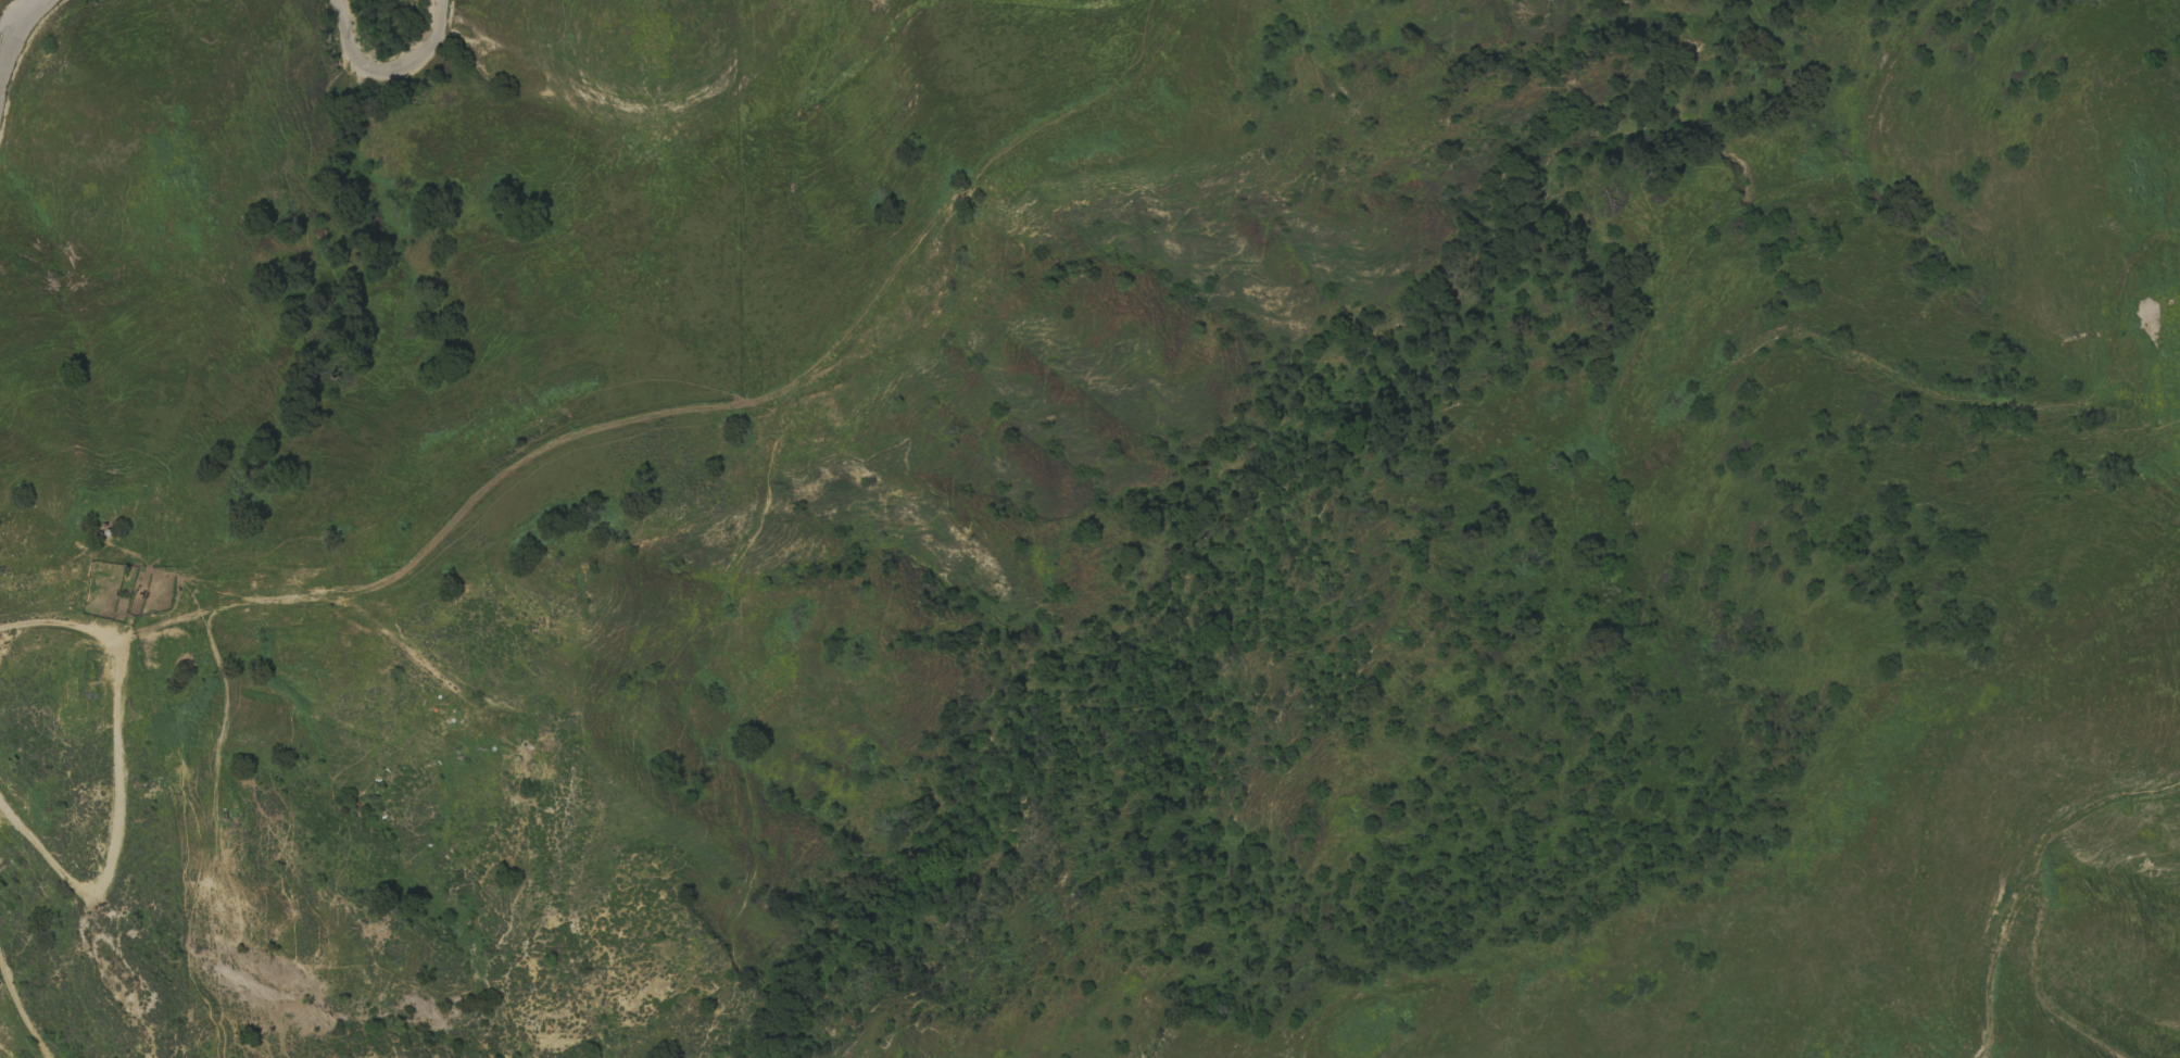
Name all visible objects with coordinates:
road: (13, 32)
road: (390, 72)
road: (1689, 396)
road: (78, 634)
road: (2027, 877)

